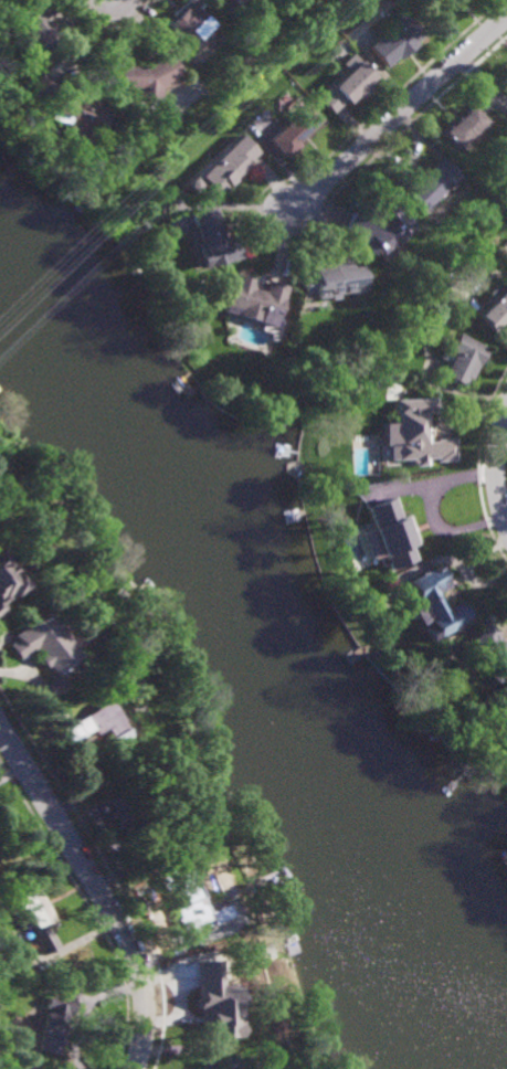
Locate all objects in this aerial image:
building: (231, 0)
building: (437, 9)
building: (34, 25)
building: (191, 27)
building: (395, 42)
building: (506, 72)
building: (146, 78)
building: (350, 83)
building: (40, 84)
building: (76, 113)
road: (398, 115)
building: (462, 126)
building: (296, 130)
building: (230, 165)
building: (430, 183)
building: (380, 230)
building: (213, 239)
building: (330, 281)
building: (254, 299)
building: (173, 308)
building: (495, 309)
building: (189, 328)
building: (463, 359)
building: (418, 434)
road: (496, 463)
building: (387, 536)
building: (7, 584)
building: (434, 605)
building: (42, 646)
building: (490, 654)
building: (96, 728)
building: (129, 815)
road: (97, 890)
building: (182, 898)
building: (36, 919)
building: (207, 992)
building: (51, 1022)
building: (240, 1063)

